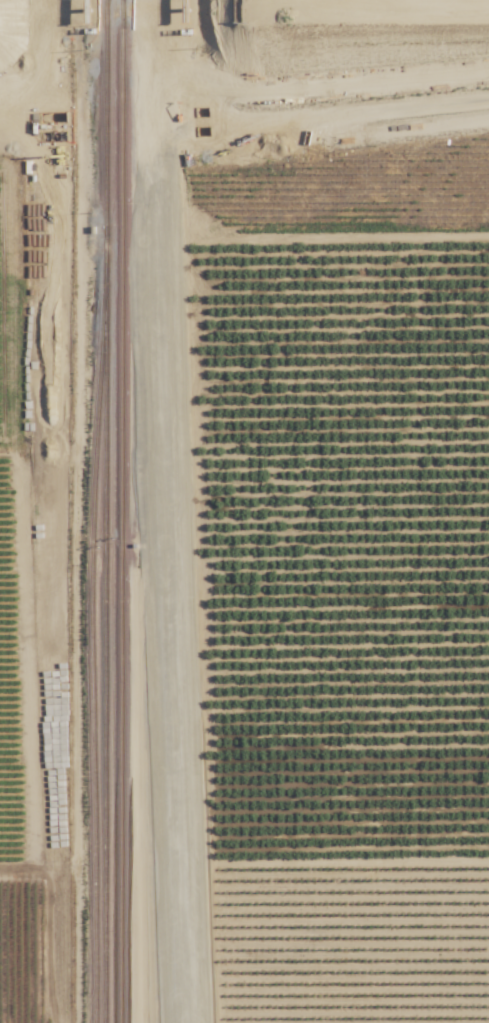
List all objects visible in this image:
road: (417, 0)
railway: (48, 18)
railway: (62, 18)
railway: (107, 148)
railway: (123, 511)
railway: (70, 530)
railway: (89, 530)
crop: (346, 541)
railway: (92, 659)
railway: (106, 659)
railway: (161, 742)
railway: (172, 742)

